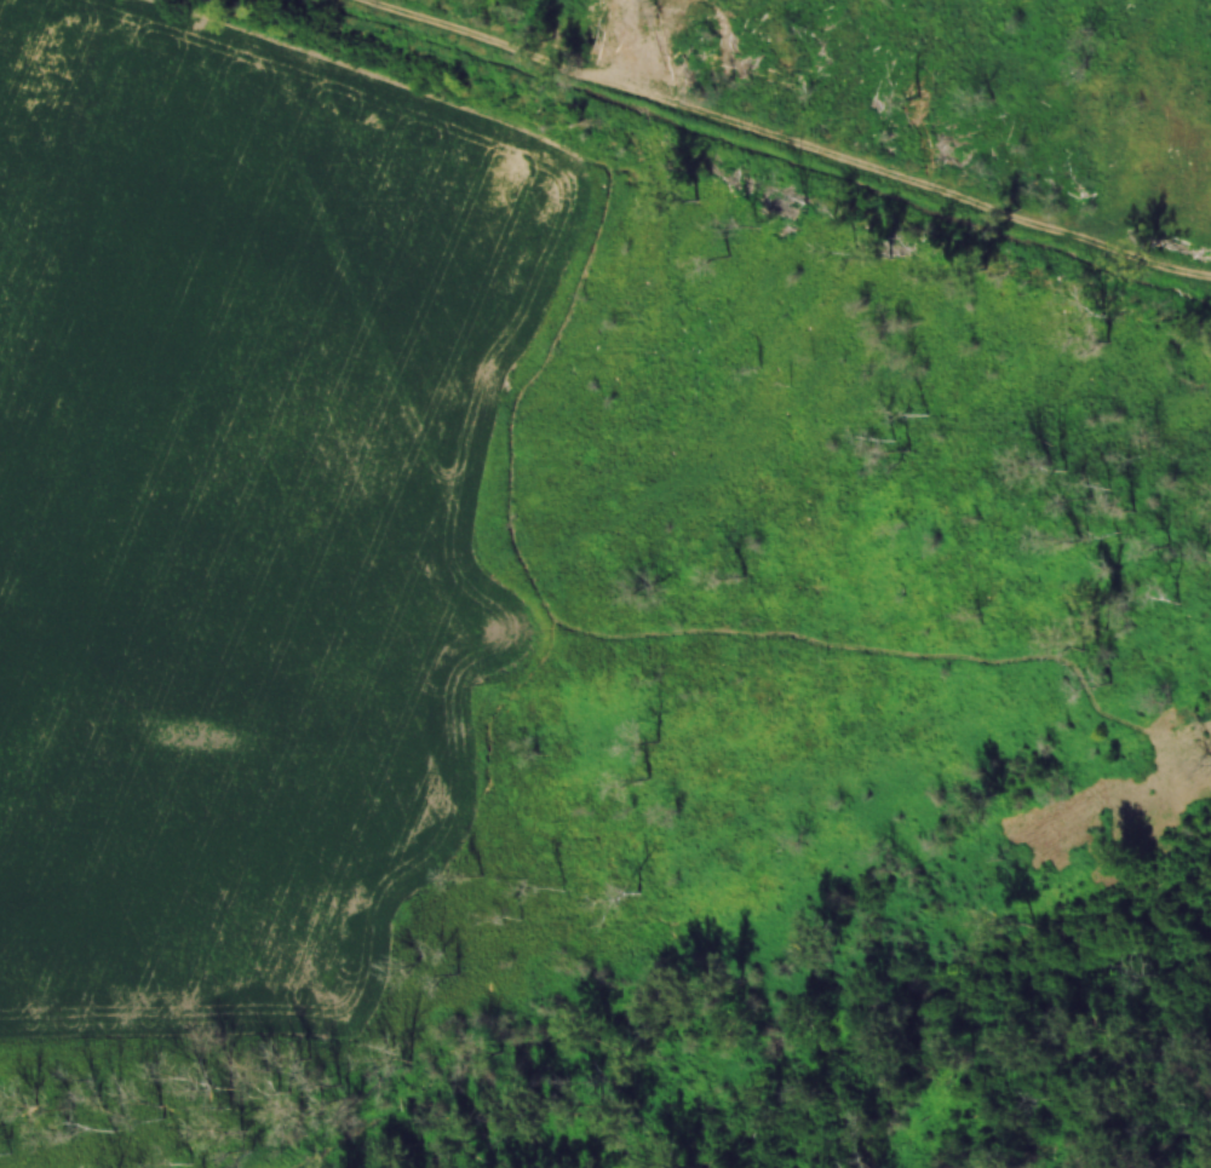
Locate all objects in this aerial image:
park: (608, 1137)

